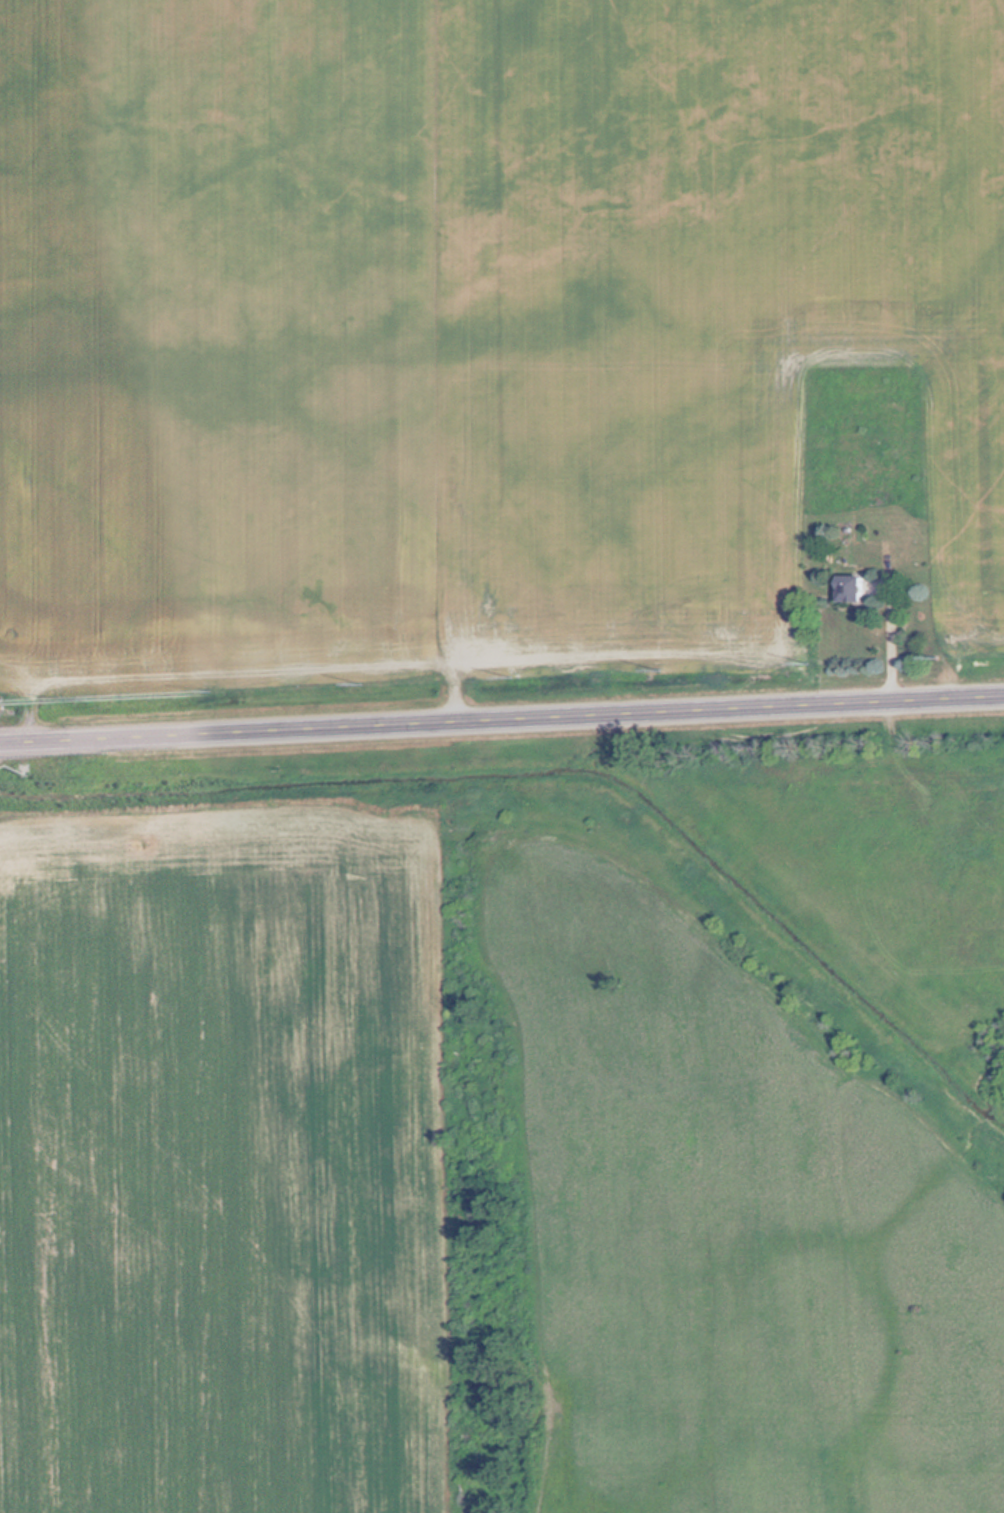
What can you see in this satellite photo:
building: (879, 532)
building: (856, 587)
road: (502, 721)

